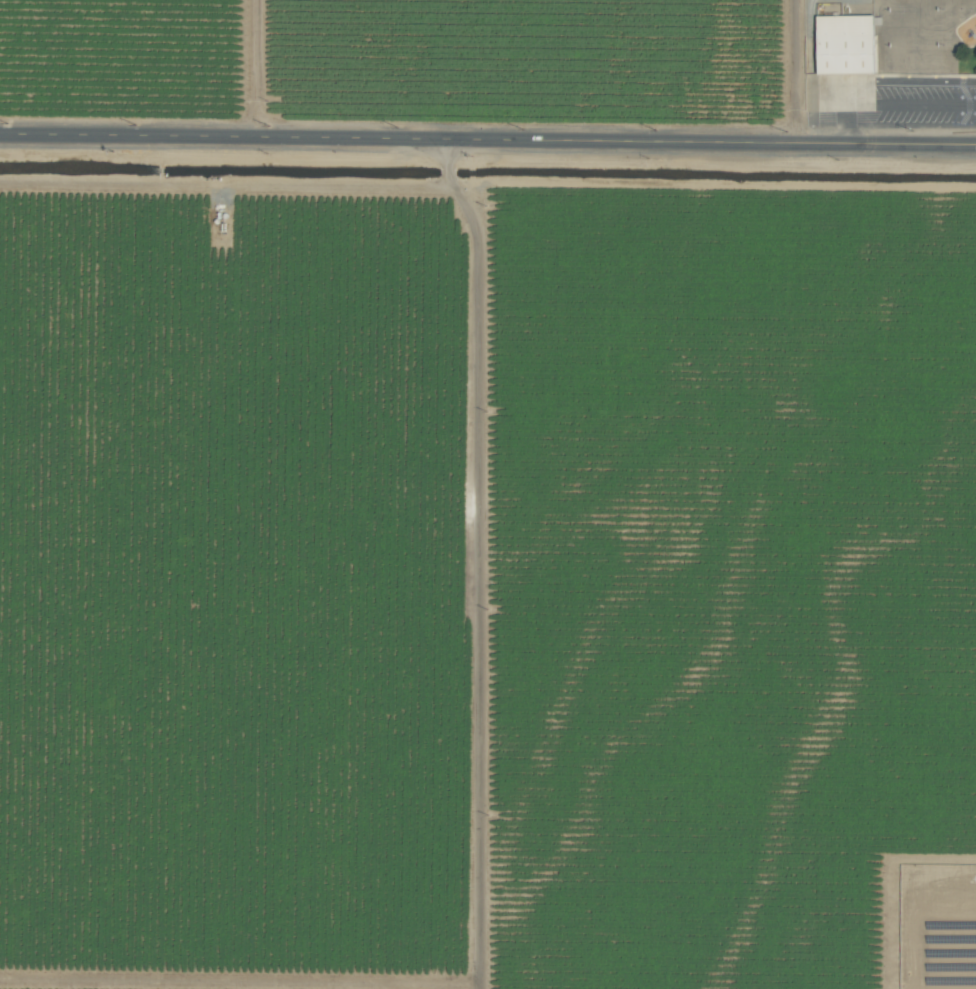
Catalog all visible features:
building: (845, 43)
road: (925, 80)
road: (843, 81)
road: (842, 125)
road: (488, 138)
crop: (488, 494)

